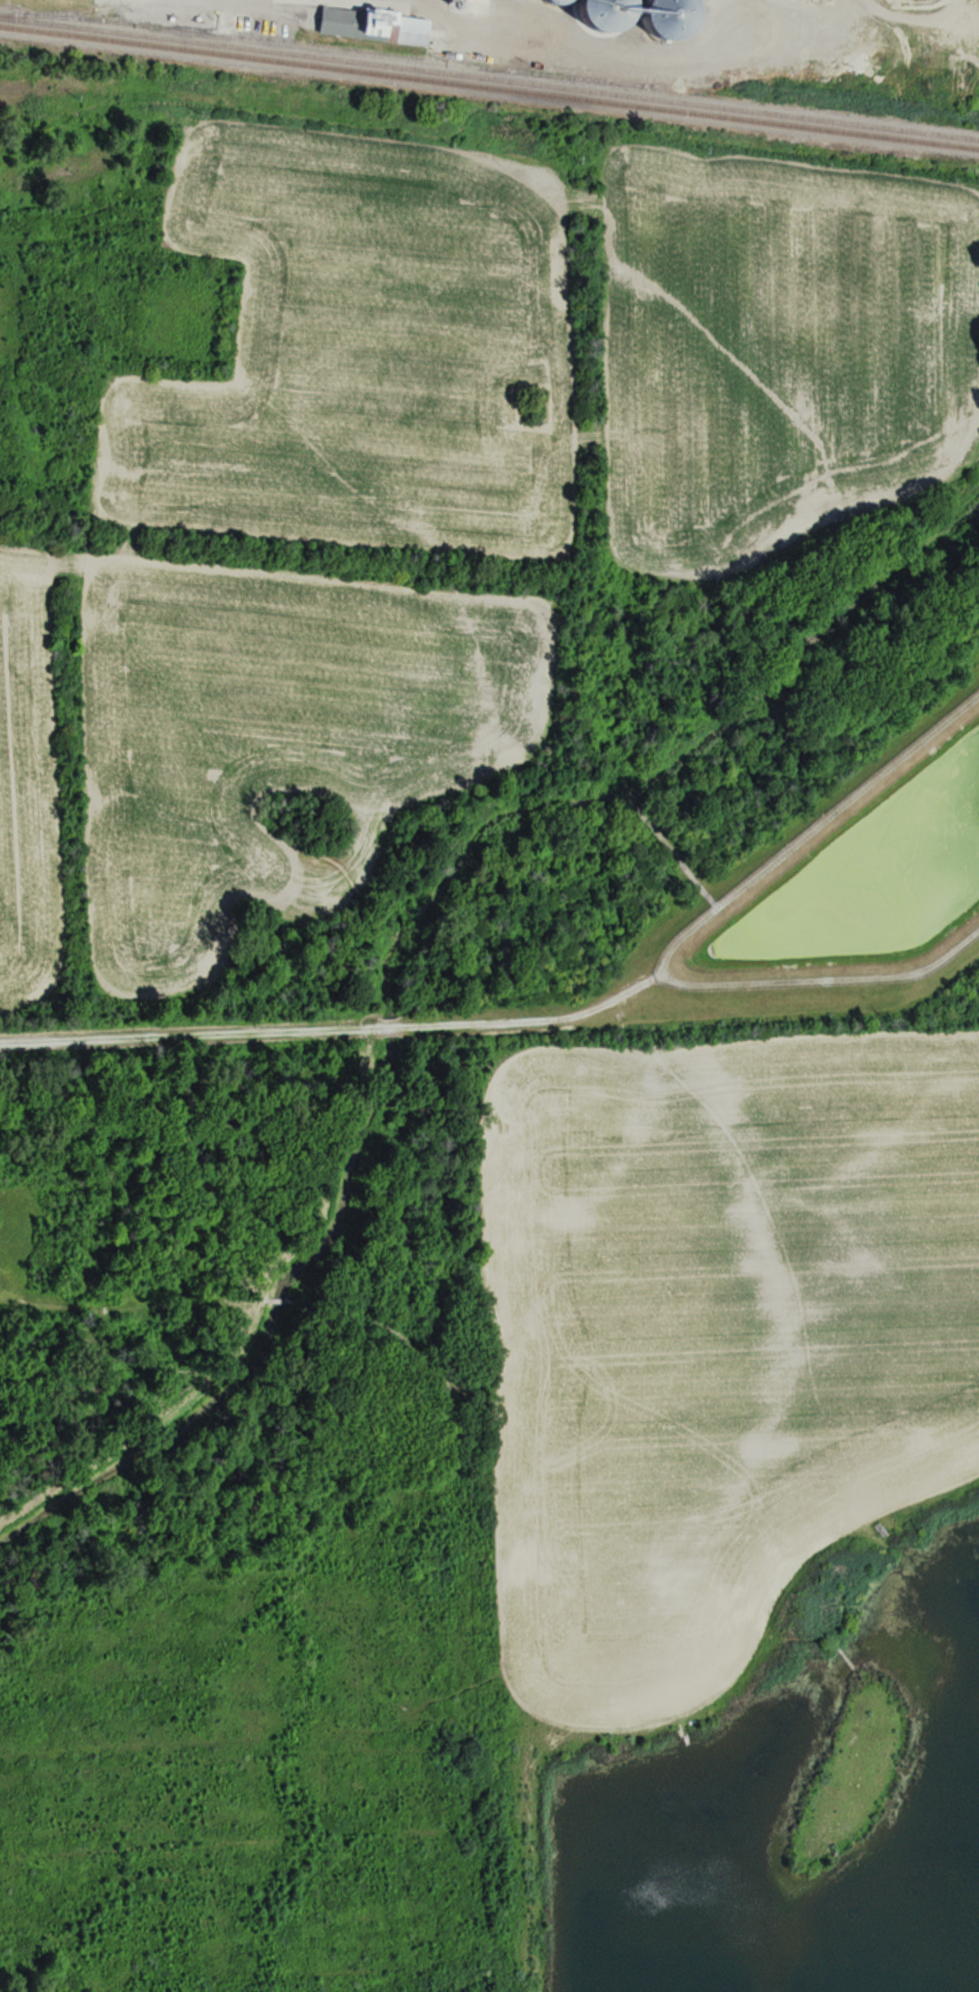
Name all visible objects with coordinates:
building: (602, 10)
railway: (67, 12)
building: (661, 17)
building: (381, 26)
railway: (331, 49)
railway: (489, 78)
railway: (489, 88)
river: (390, 994)

